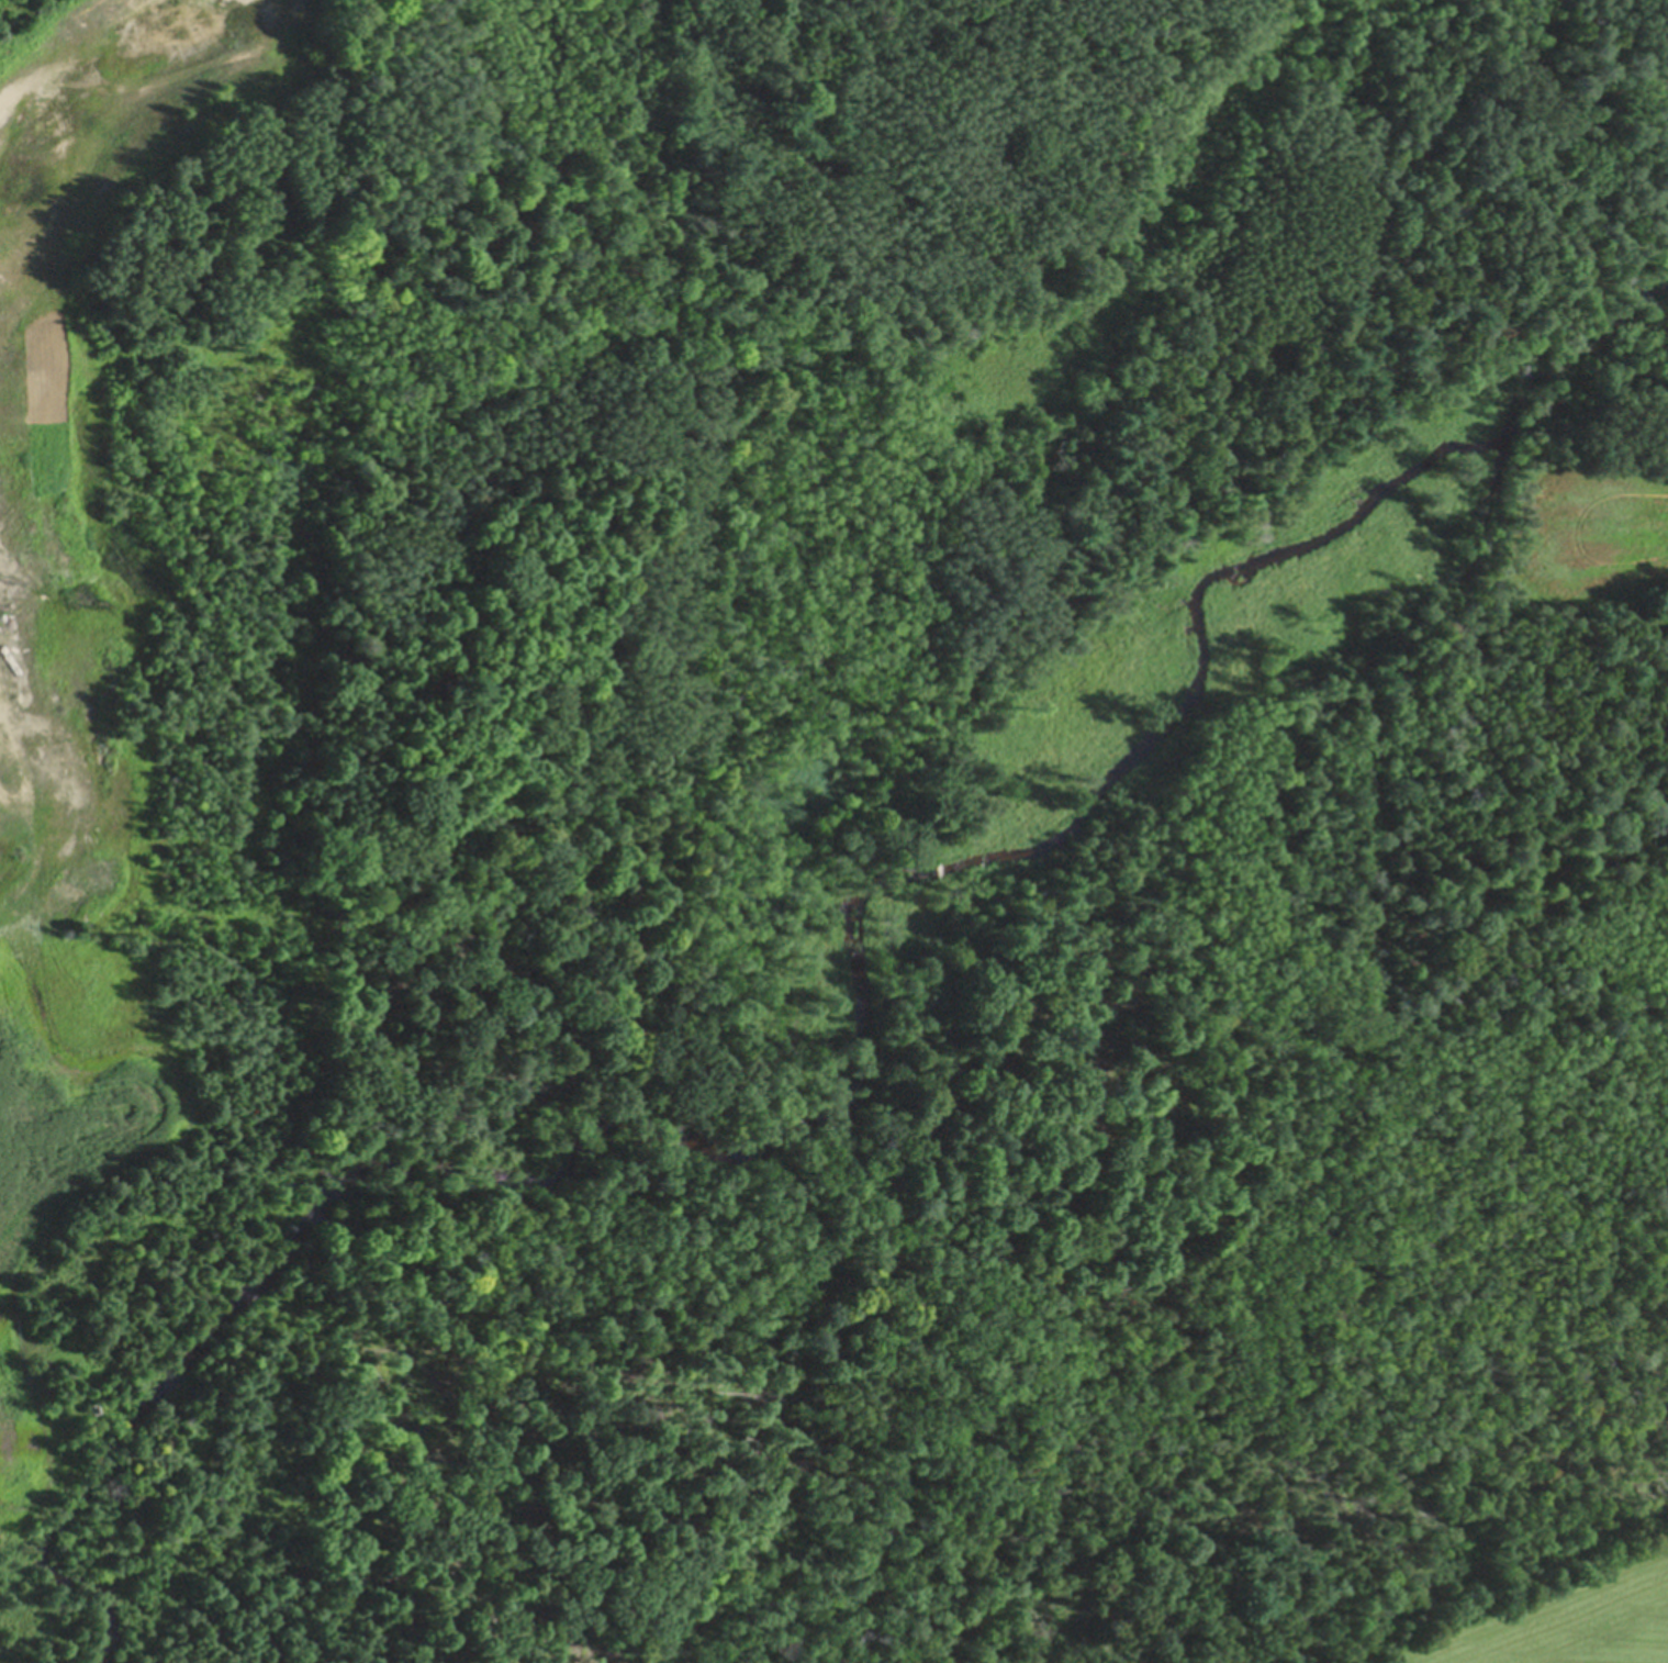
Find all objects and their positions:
quarry: (148, 403)
road: (11, 637)

